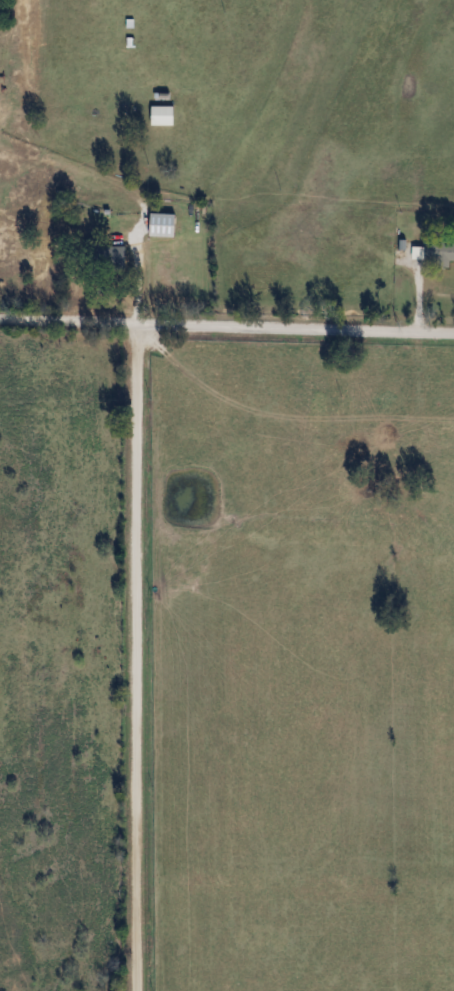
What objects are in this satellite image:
building: (159, 115)
building: (159, 224)
building: (438, 251)
building: (106, 257)
road: (132, 274)
road: (421, 291)
road: (227, 328)
road: (137, 657)

